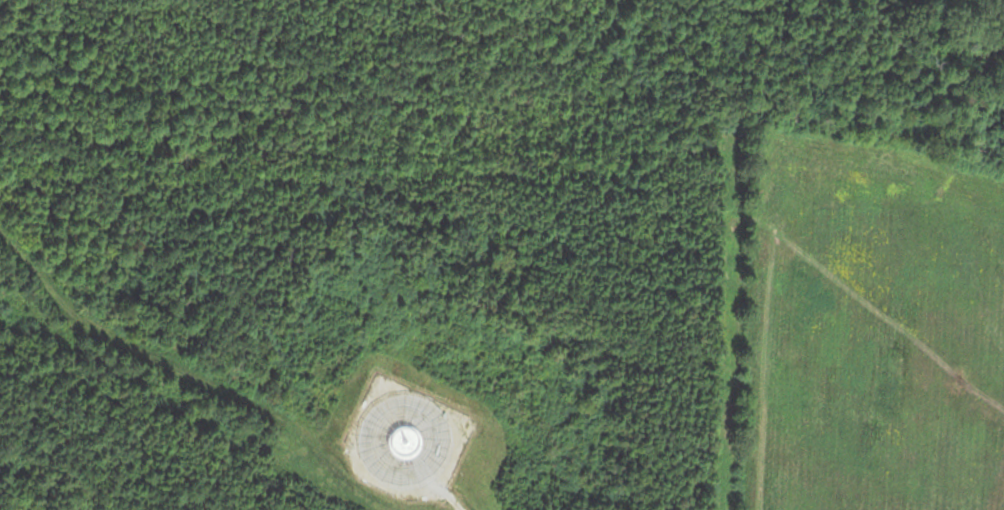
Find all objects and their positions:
building: (403, 441)

